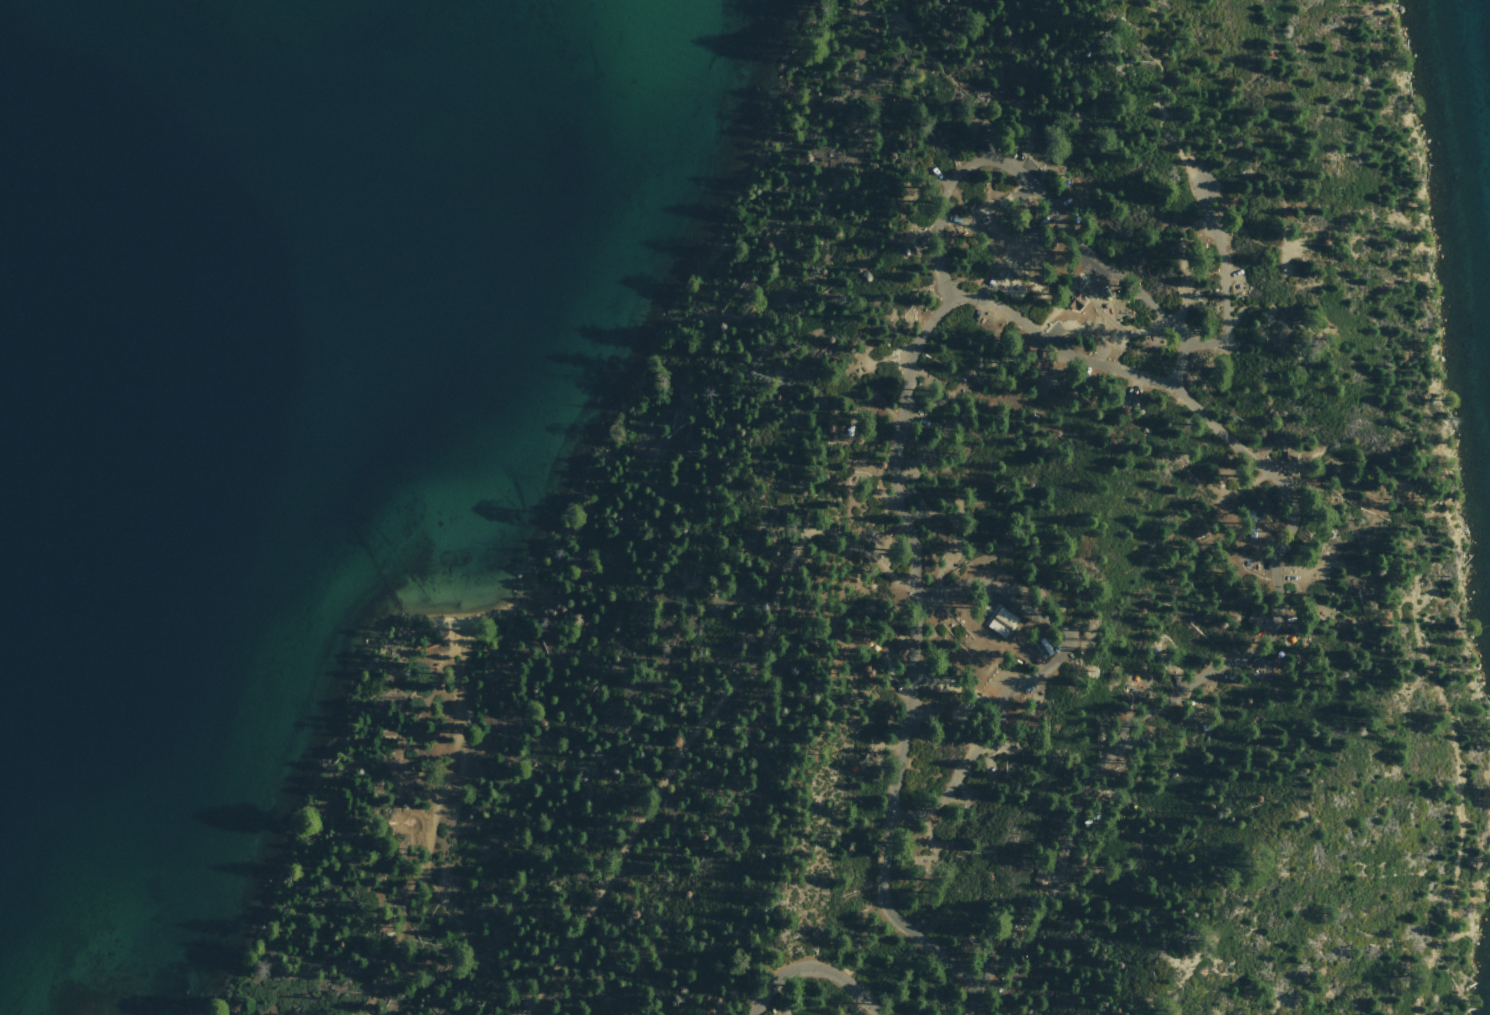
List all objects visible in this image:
road: (1155, 90)
road: (952, 182)
parking lot: (1204, 231)
road: (1113, 273)
road: (1223, 279)
building: (1070, 297)
road: (1057, 344)
road: (1206, 664)
road: (913, 665)
road: (1046, 667)
road: (1437, 711)
road: (704, 721)
road: (436, 831)
road: (822, 966)

